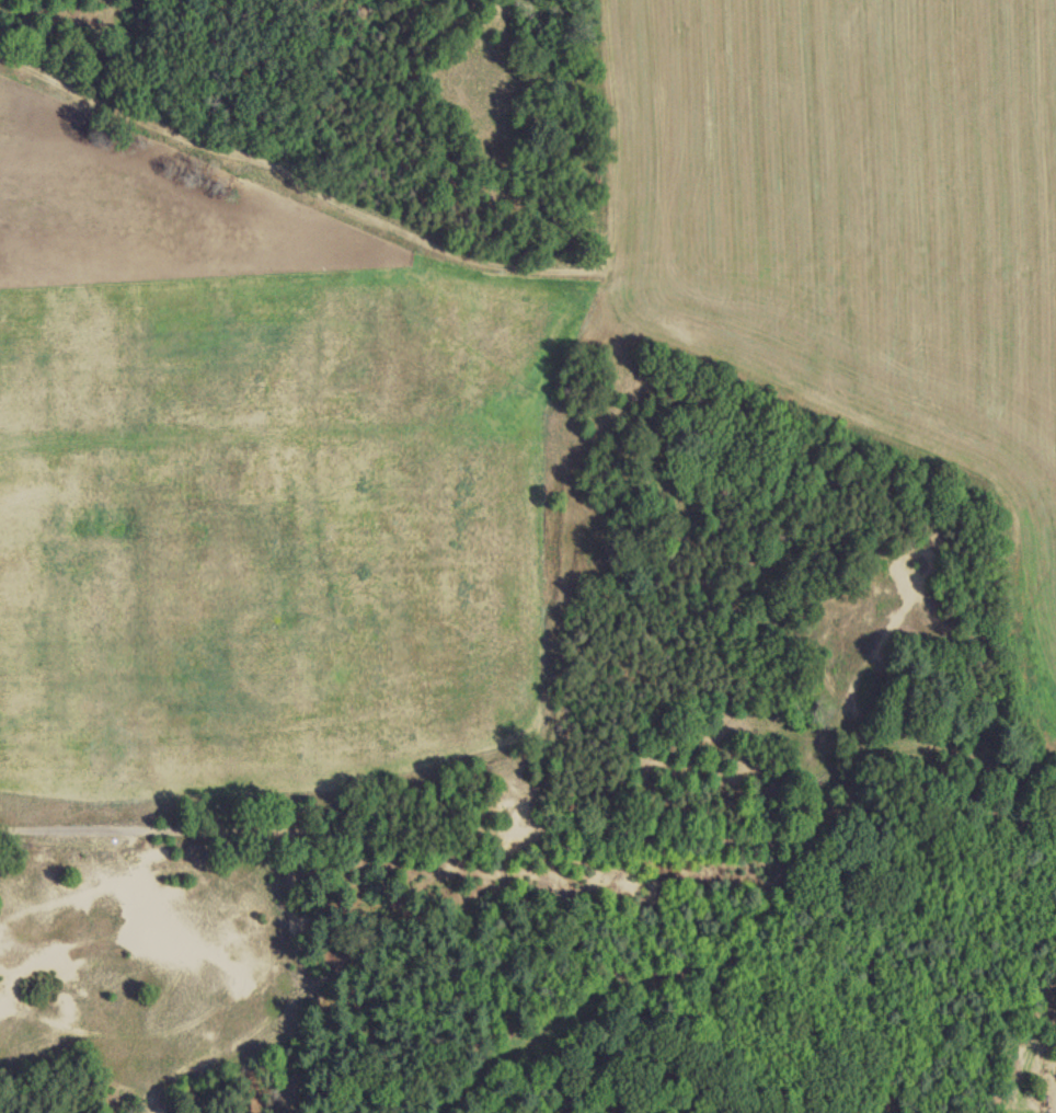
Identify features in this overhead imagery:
road: (532, 838)

